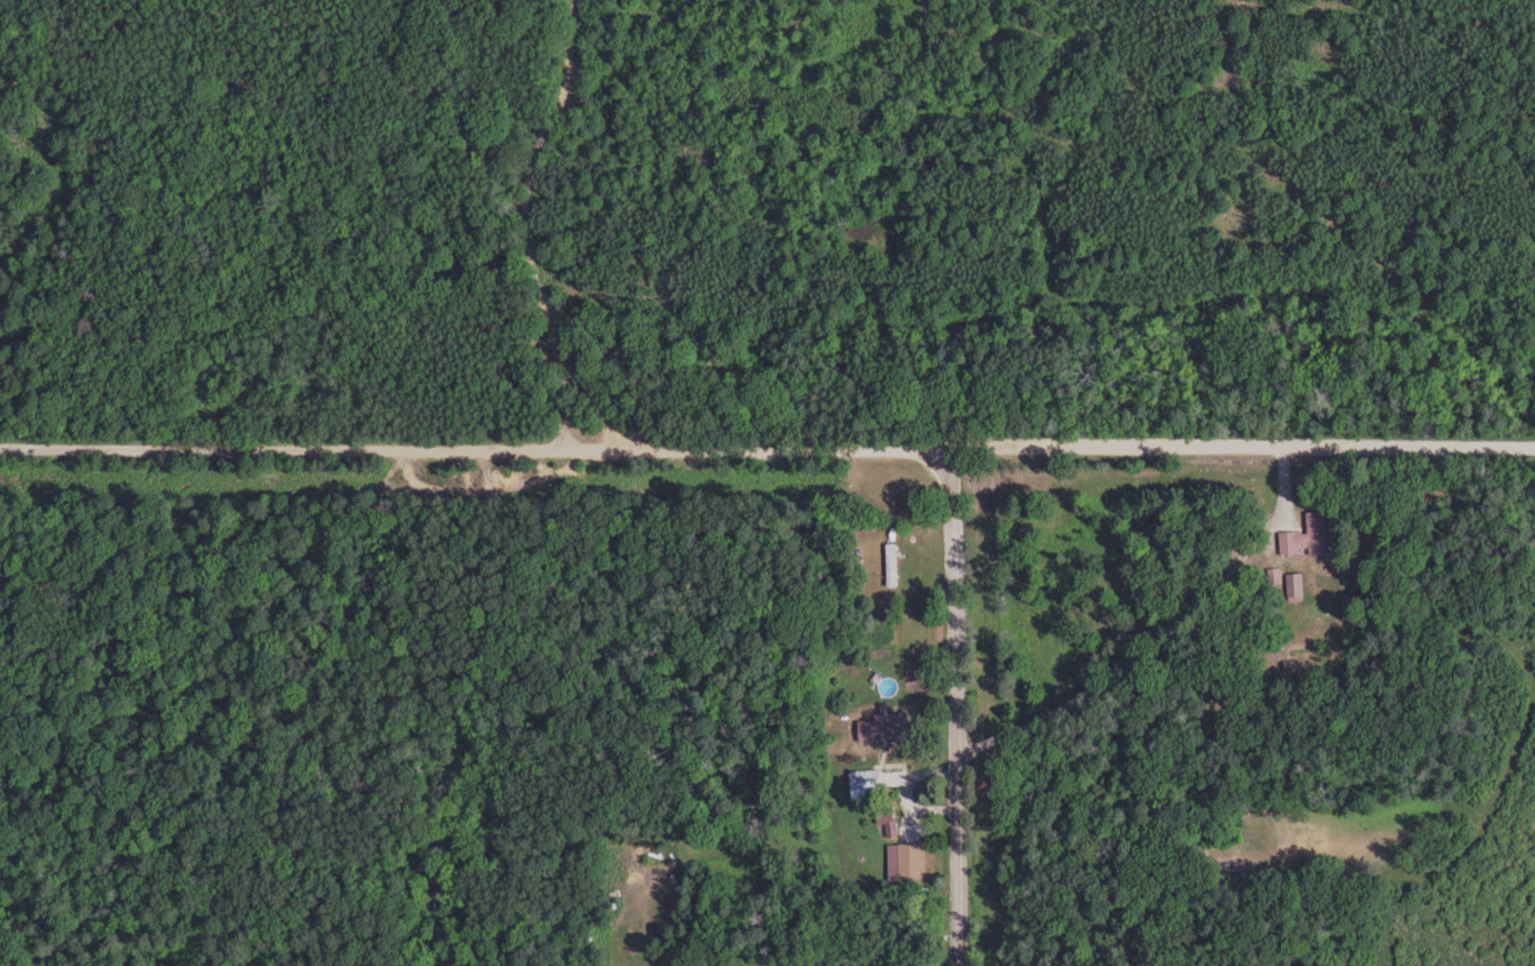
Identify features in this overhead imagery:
road: (531, 220)
road: (767, 445)
building: (1307, 538)
building: (892, 565)
building: (1274, 576)
building: (1295, 586)
road: (954, 706)
building: (885, 727)
road: (303, 760)
building: (905, 863)

